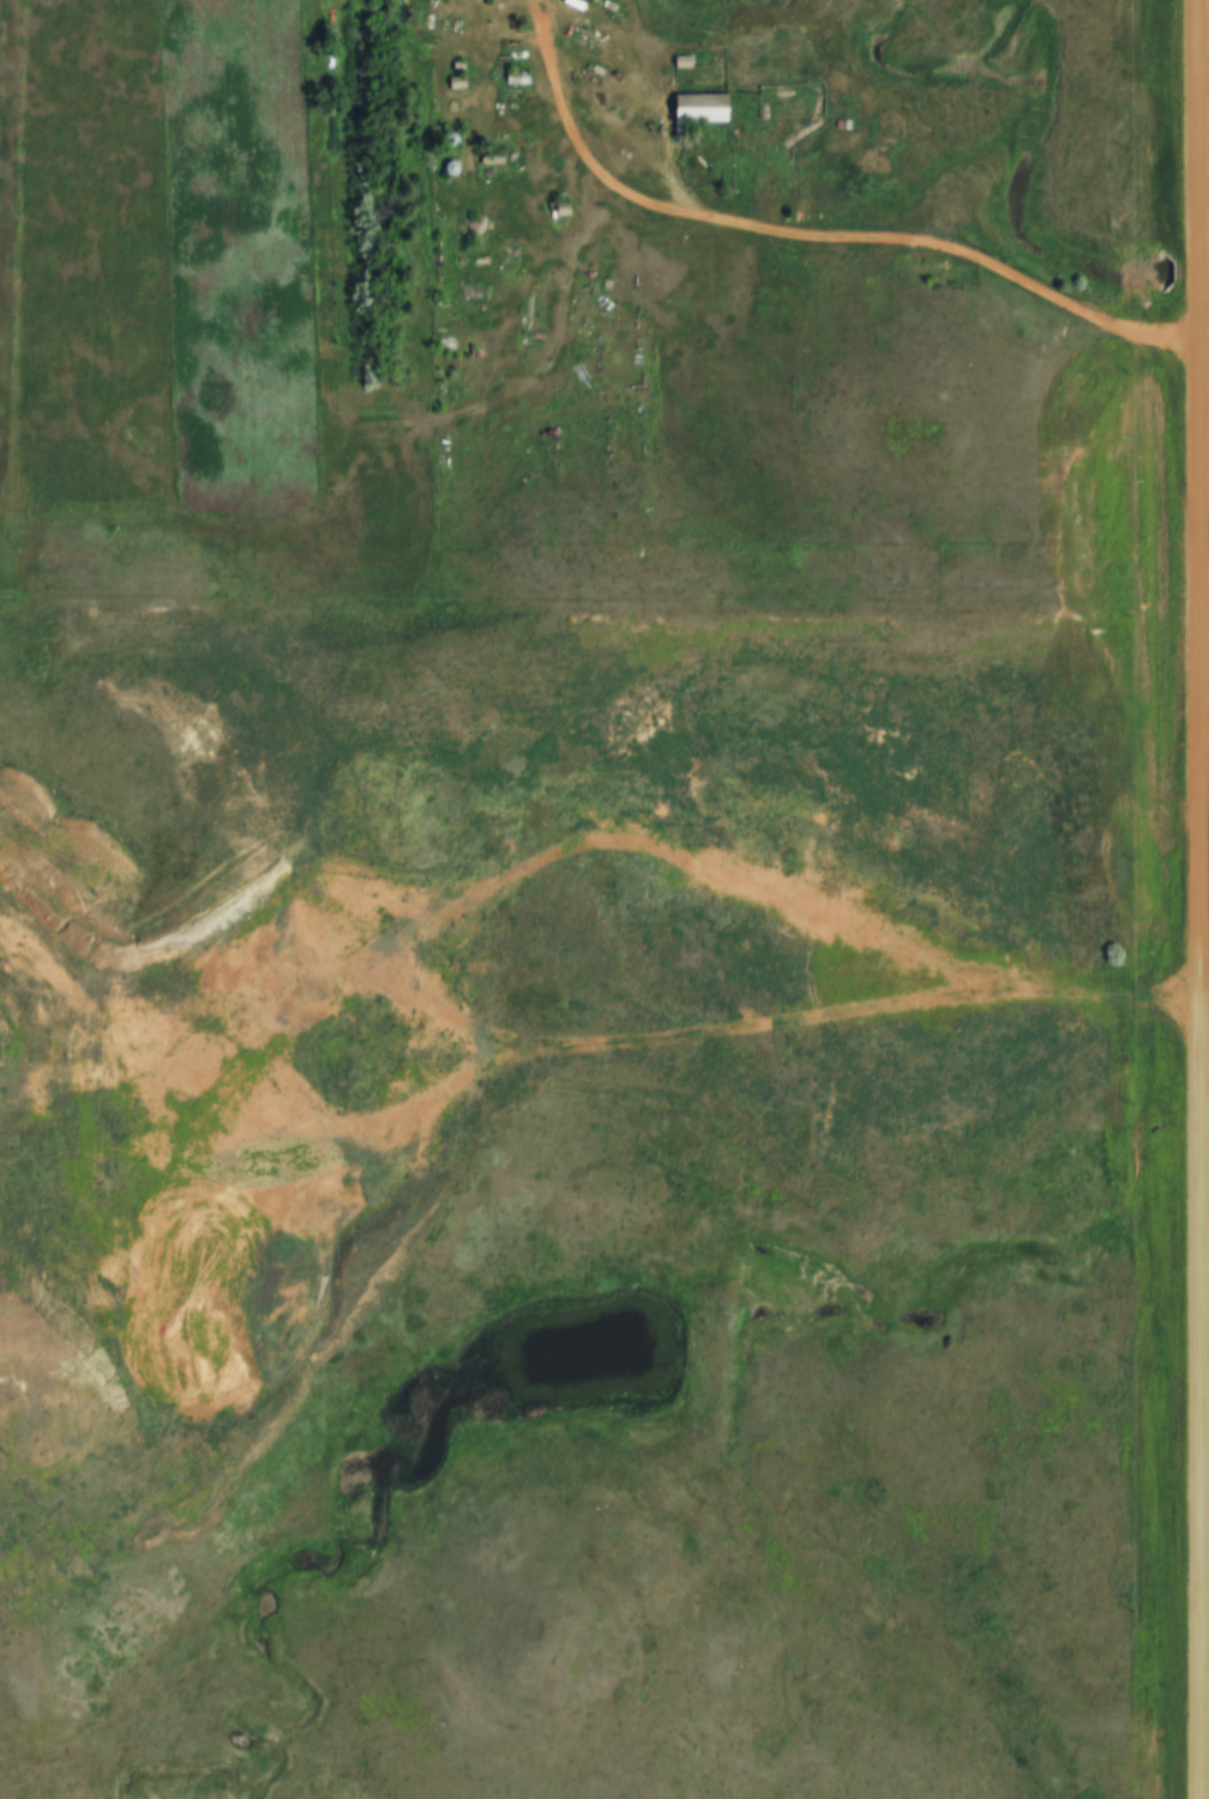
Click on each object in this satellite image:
building: (517, 78)
building: (699, 108)
road: (1196, 122)
road: (812, 240)
road: (1196, 259)
road: (354, 423)
quarry: (492, 969)
road: (1195, 1036)
road: (414, 1037)

